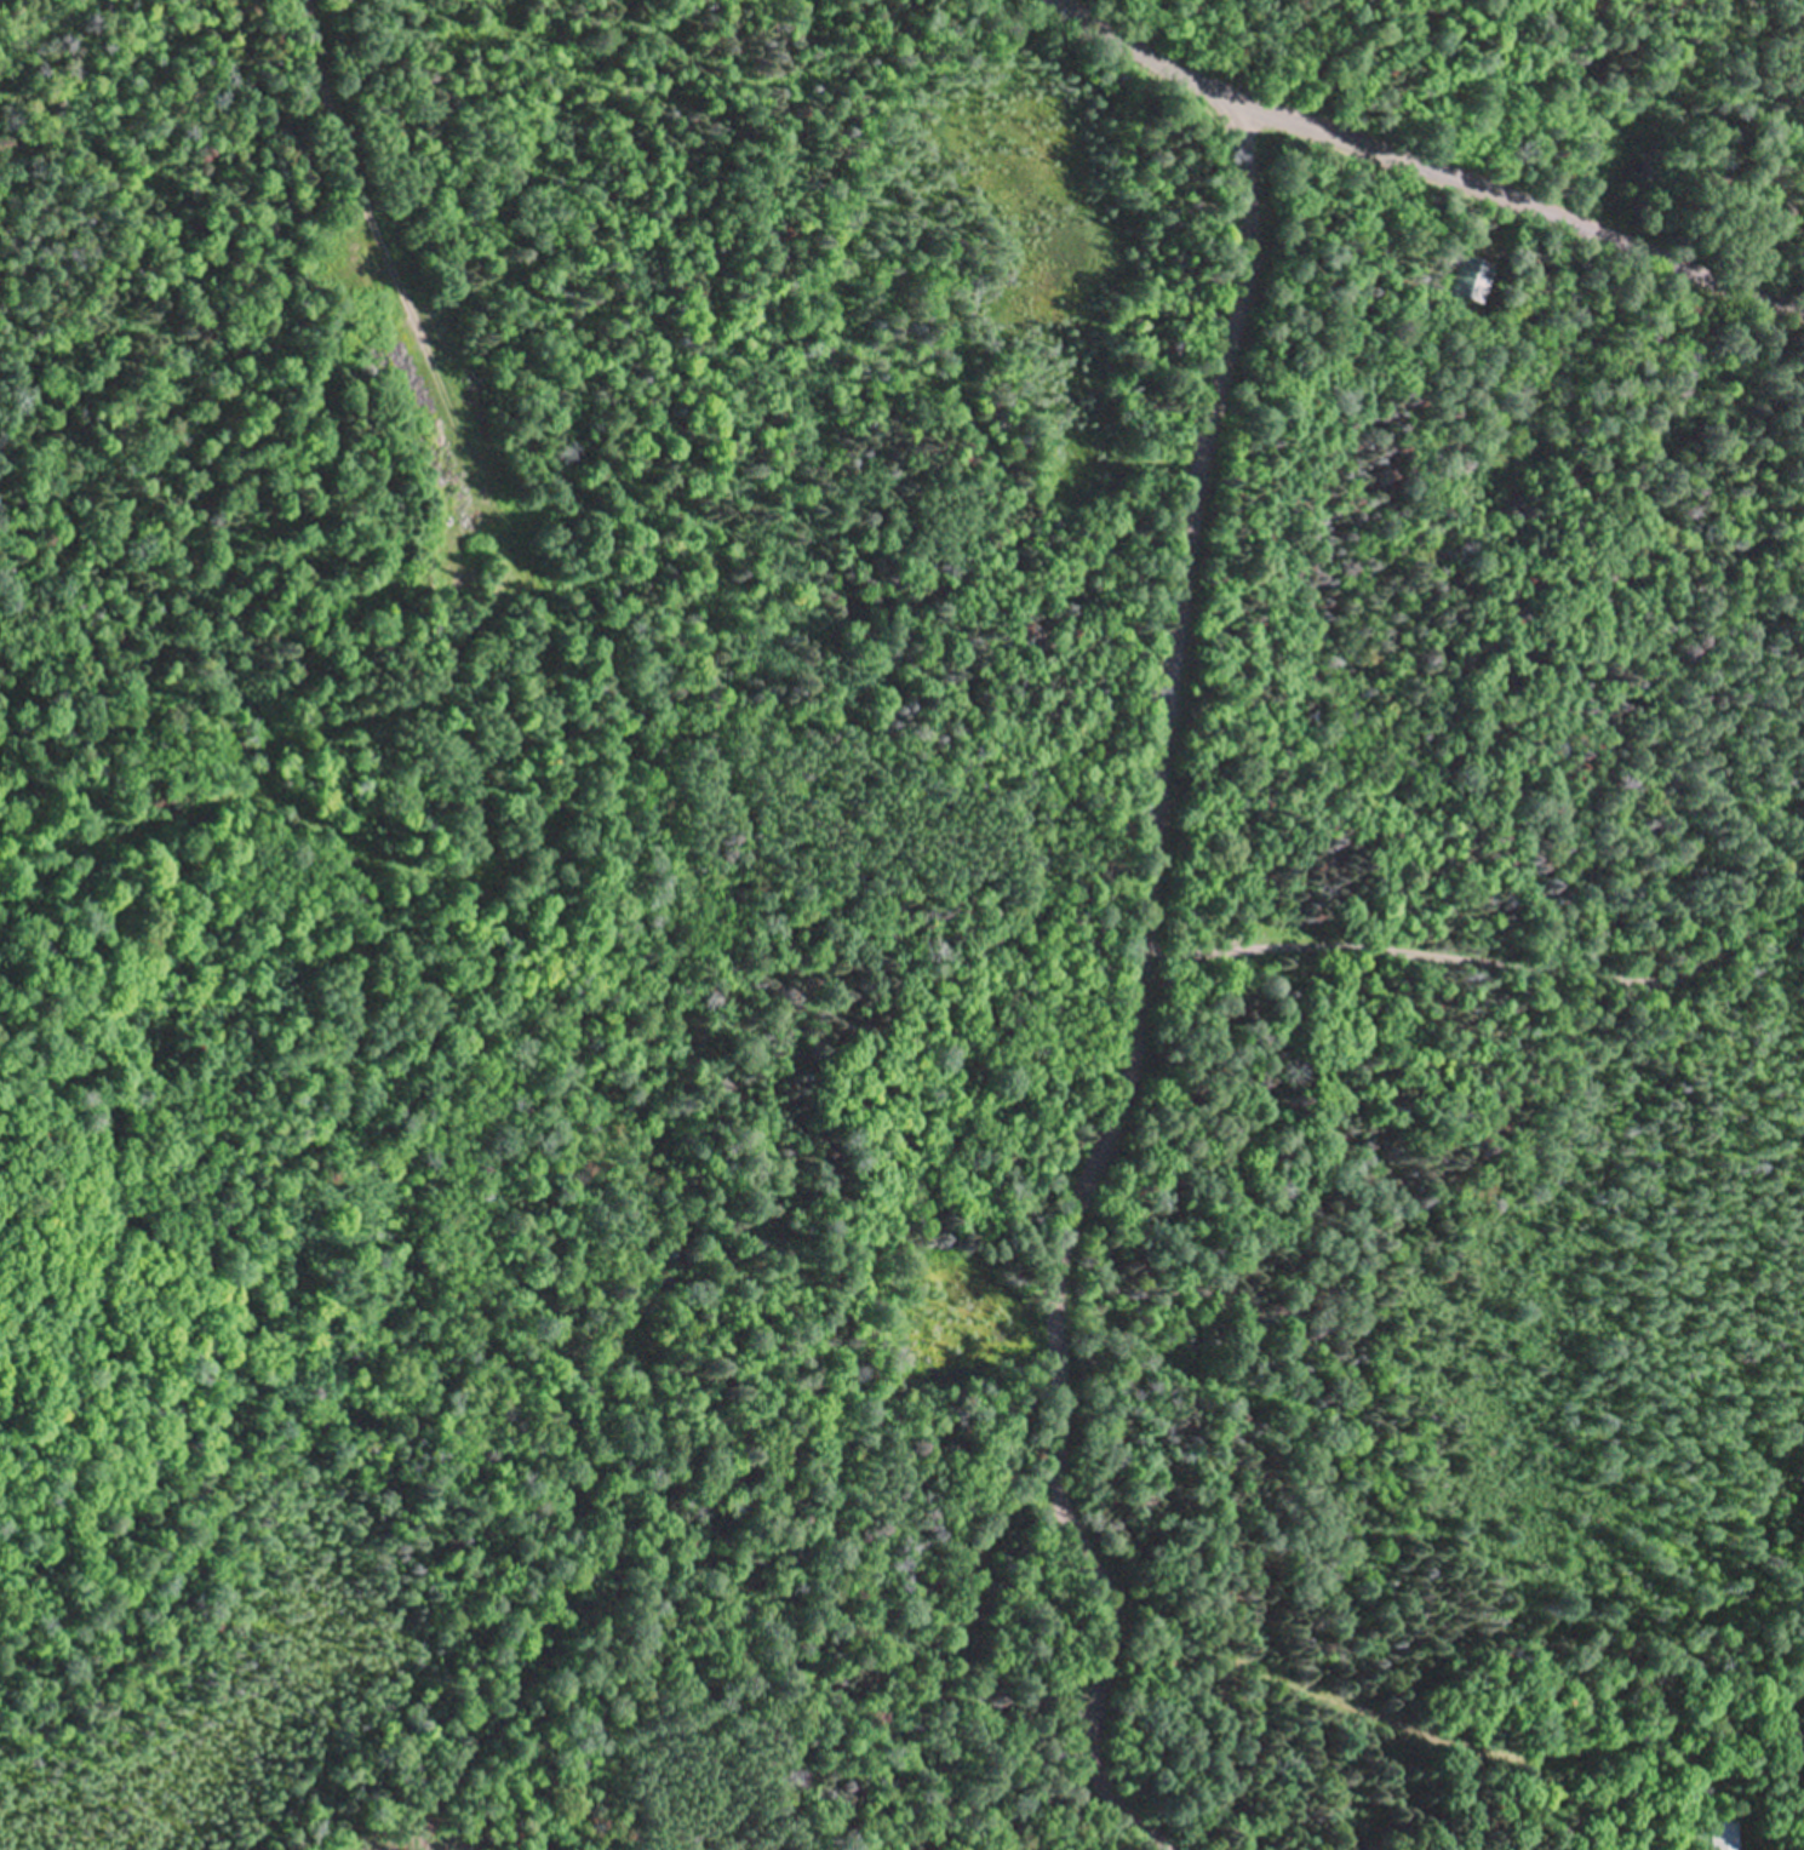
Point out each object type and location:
road: (1421, 161)
road: (1656, 905)
road: (1129, 1009)
road: (1465, 1106)
road: (1782, 1730)

